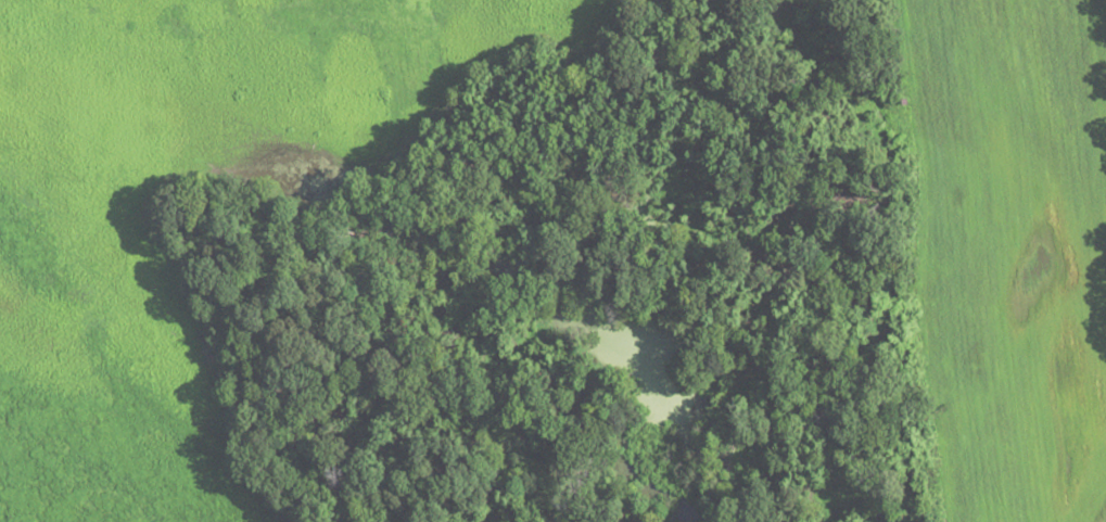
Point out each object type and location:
crop: (207, 202)
crop: (1008, 246)

